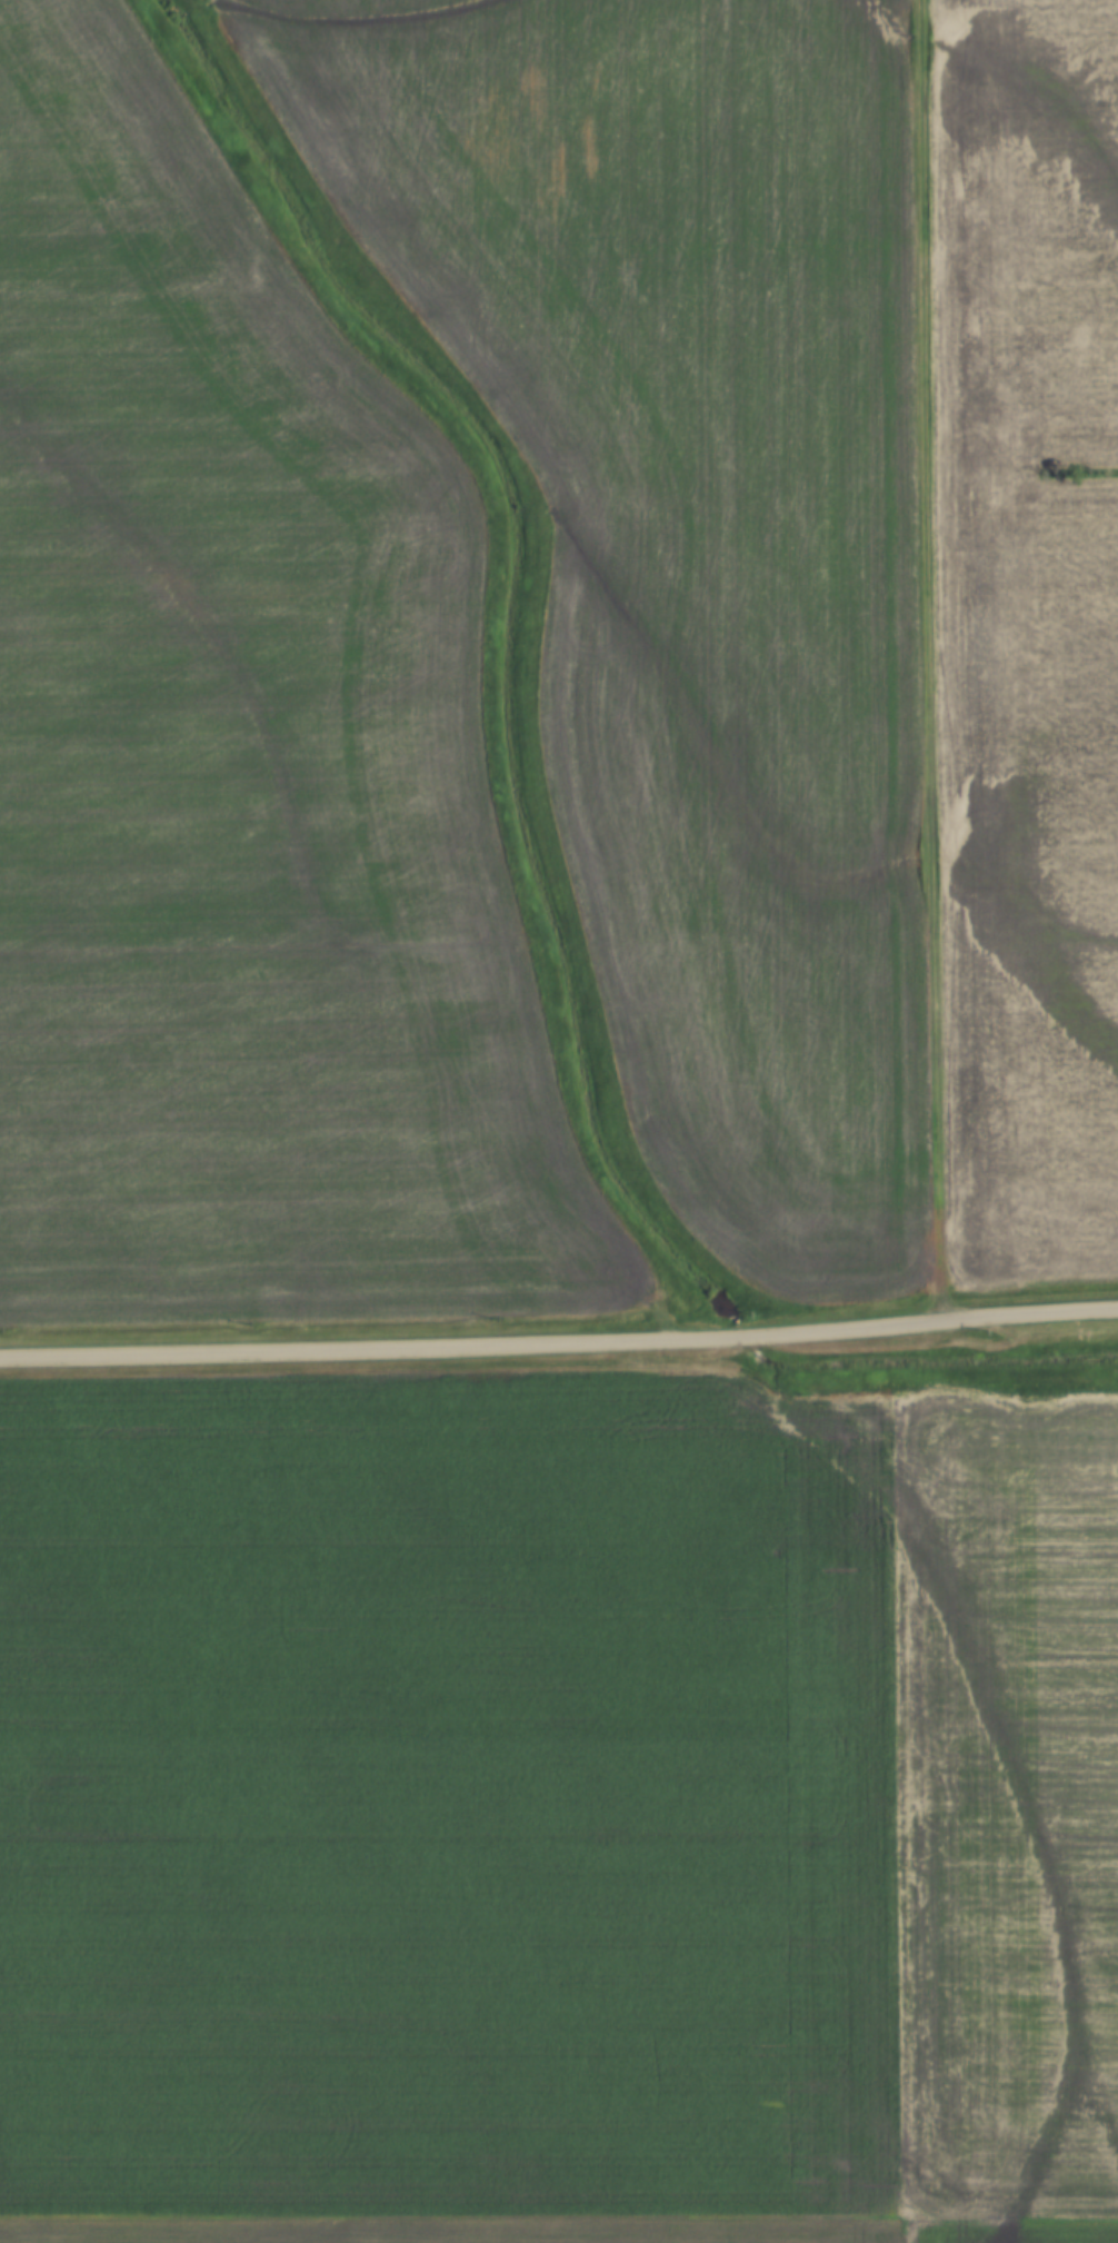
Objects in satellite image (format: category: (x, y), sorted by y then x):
crop: (693, 539)
crop: (1030, 629)
road: (931, 663)
crop: (242, 773)
road: (559, 1346)
crop: (441, 1799)
crop: (1001, 1804)
crop: (443, 2232)
crop: (1005, 2232)

